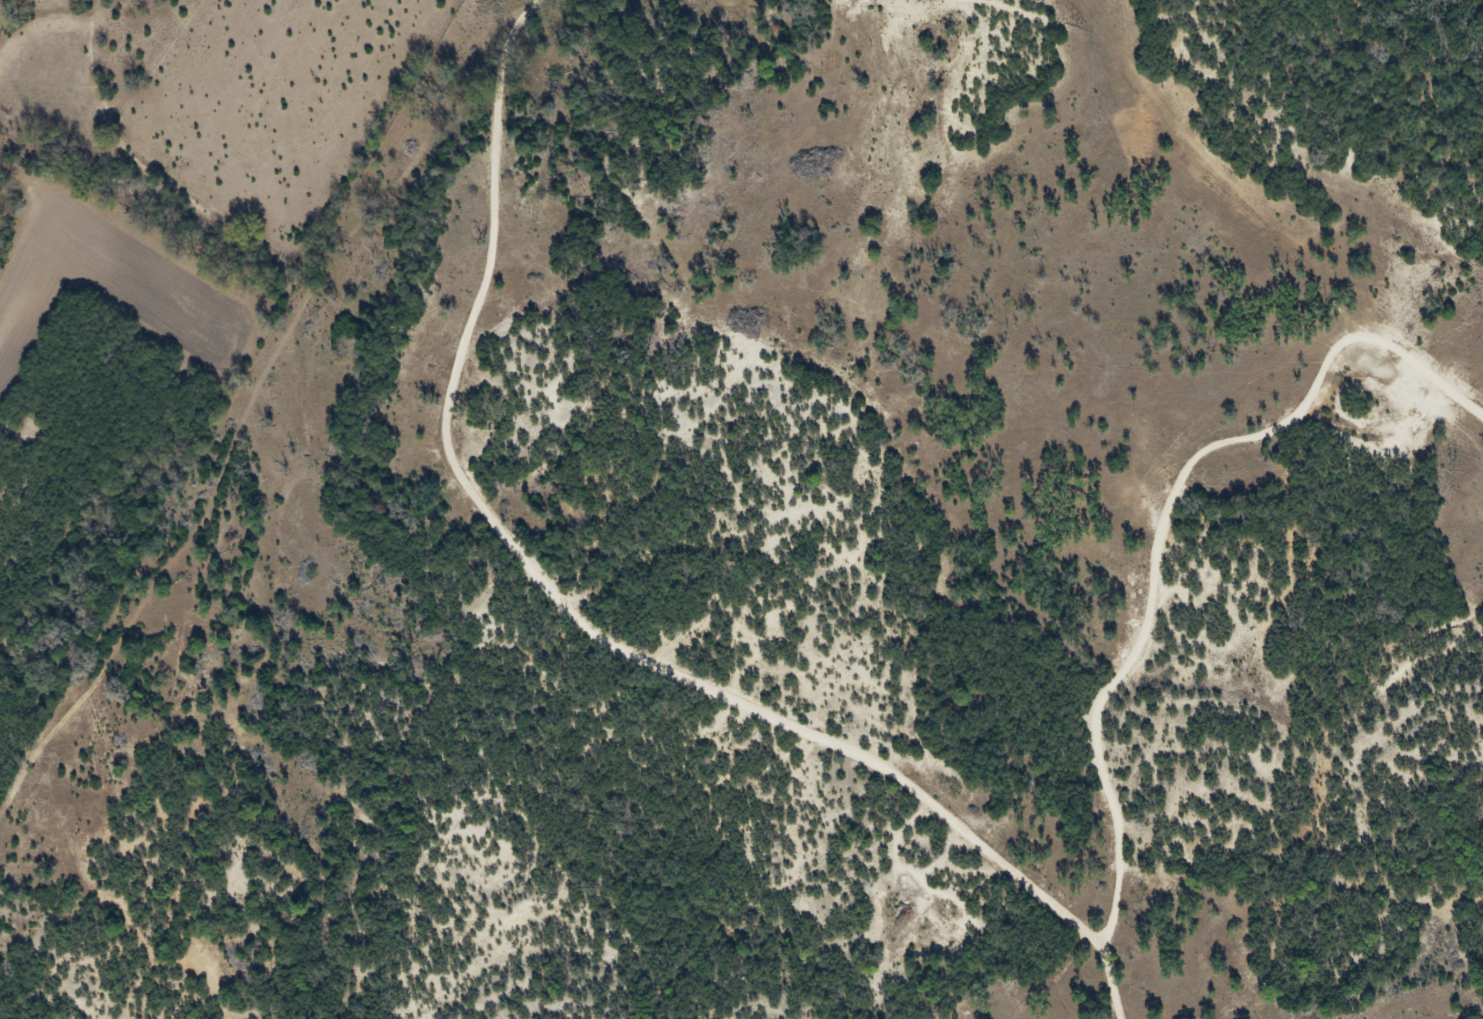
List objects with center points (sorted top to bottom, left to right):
road: (1163, 532)
road: (553, 593)
road: (1105, 983)

